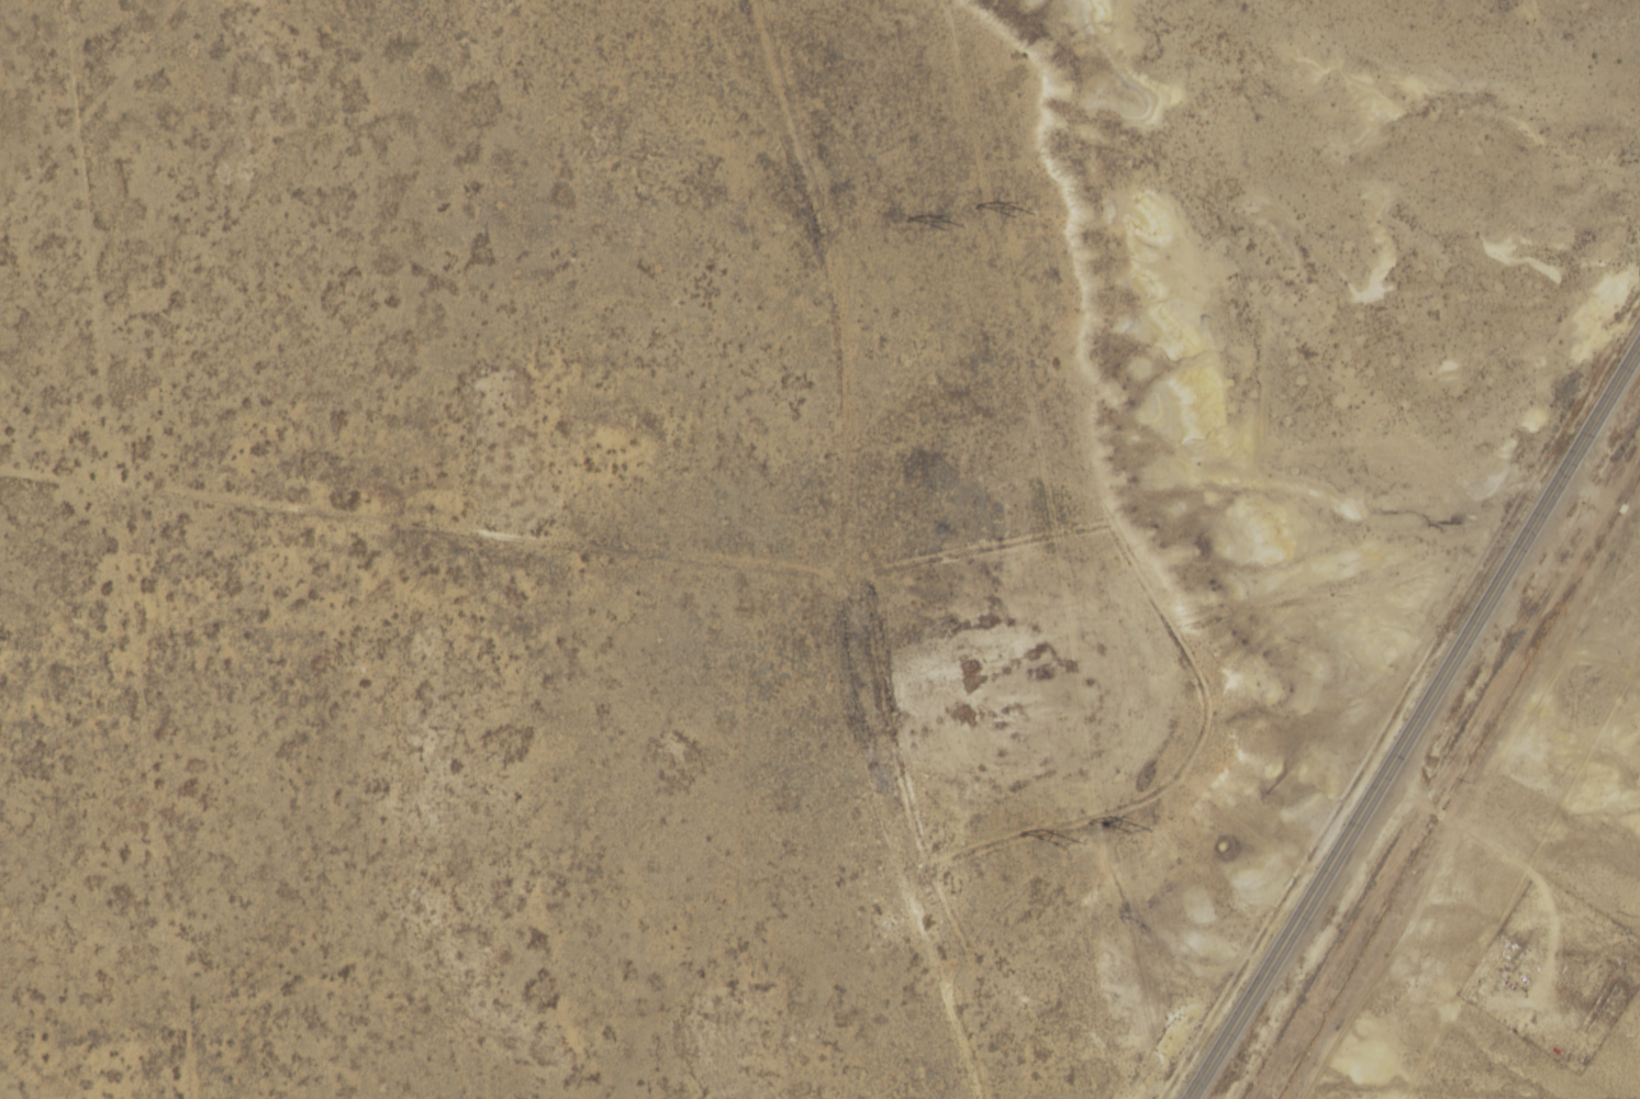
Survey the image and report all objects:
power tower: (1023, 214)
power tower: (952, 227)
road: (1416, 718)
power tower: (1140, 830)
power tower: (1070, 845)
building: (1500, 966)

